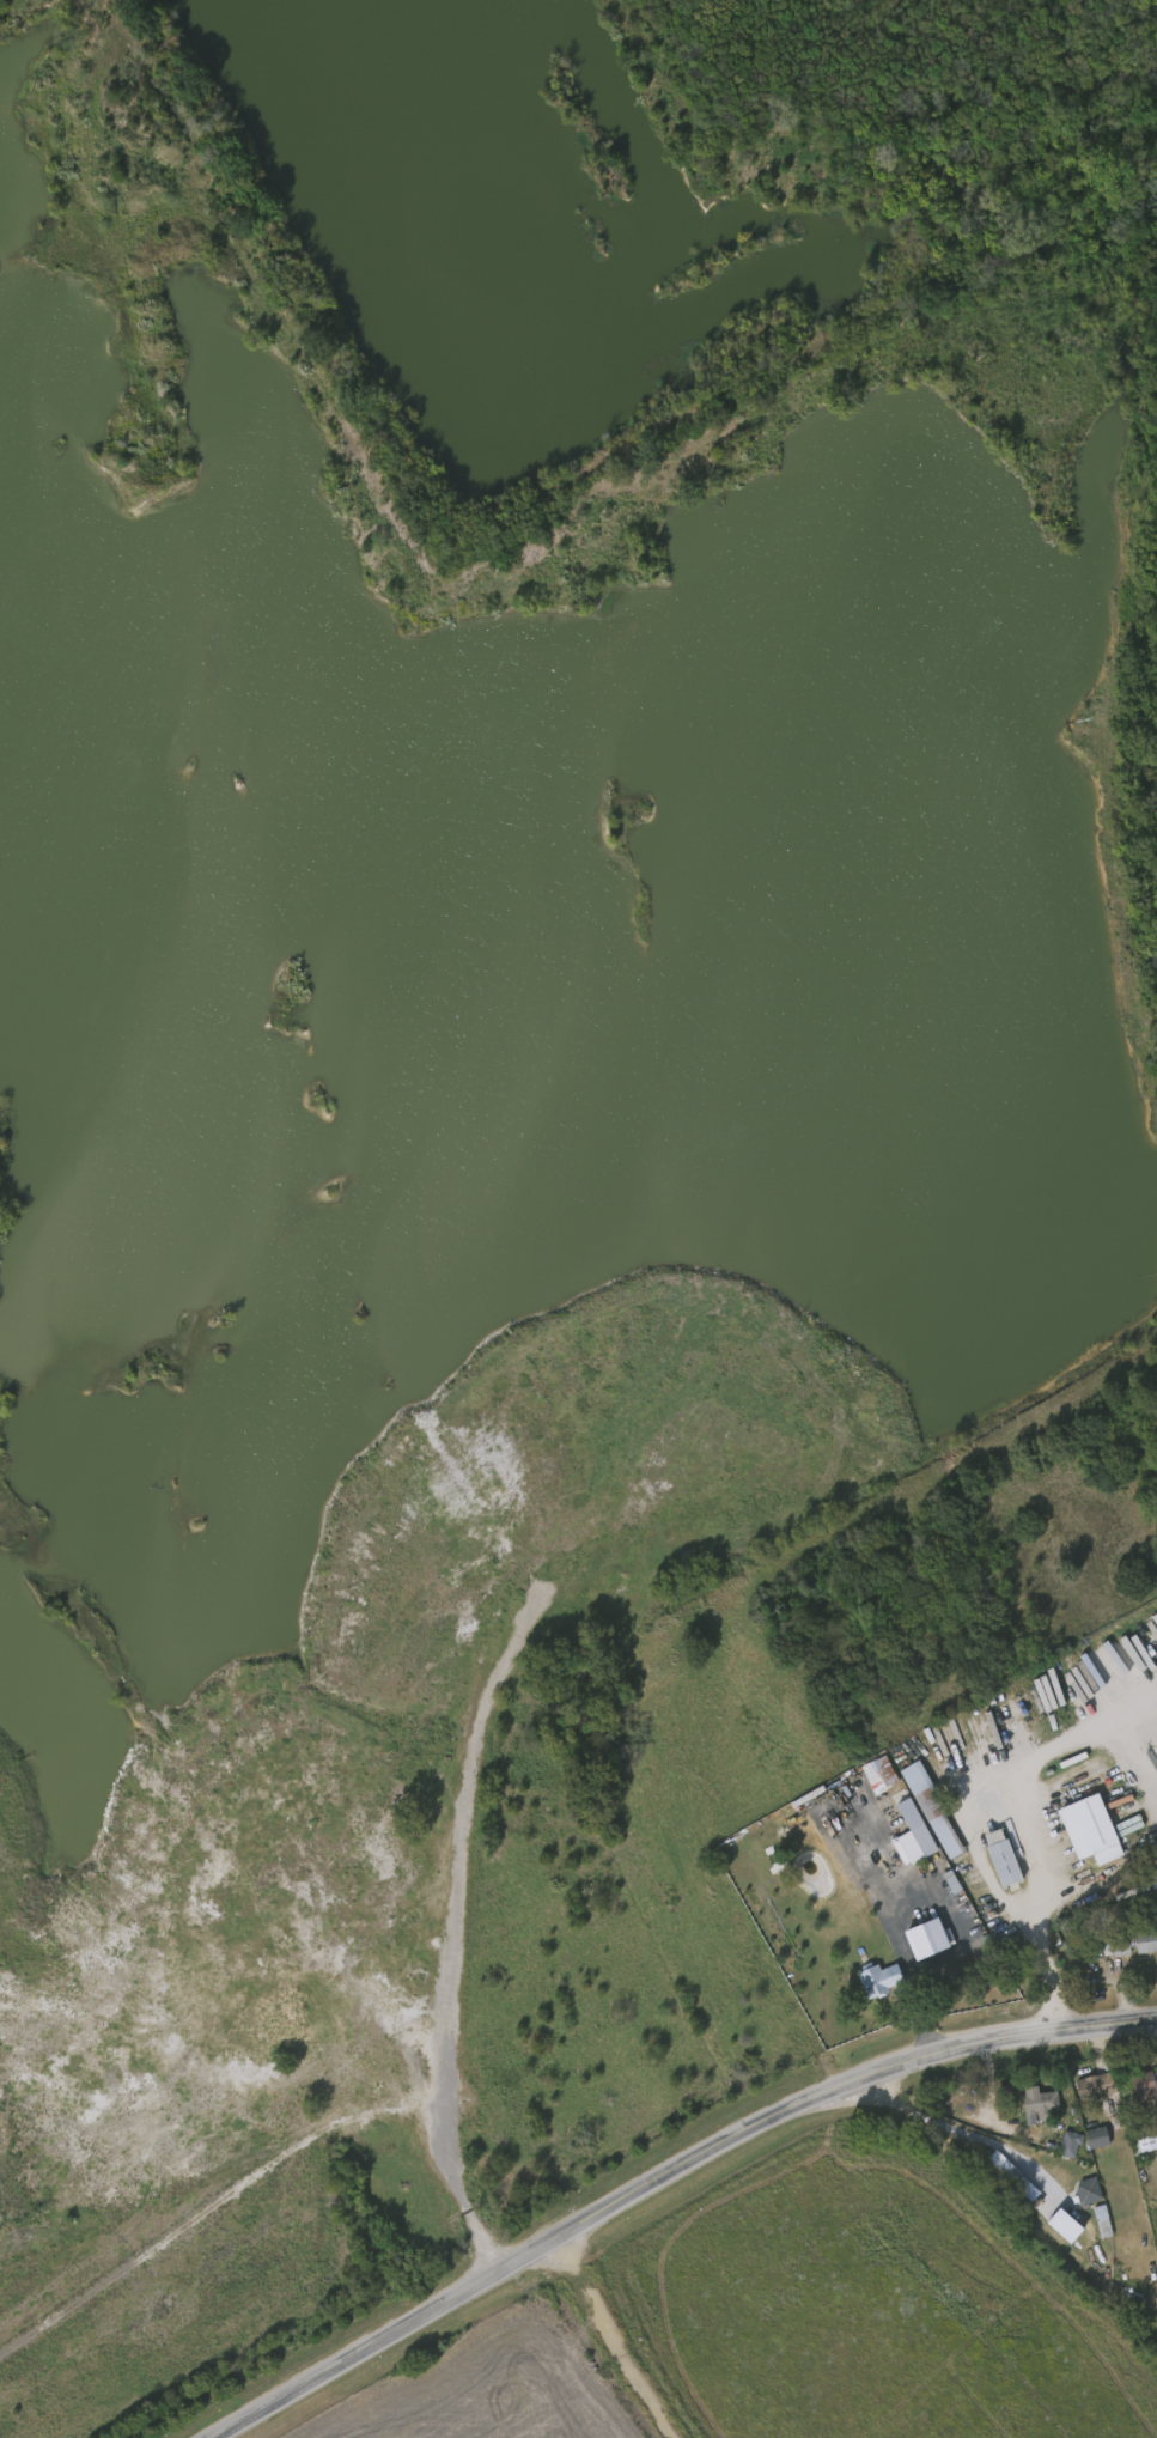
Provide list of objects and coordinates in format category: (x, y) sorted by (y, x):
road: (573, 554)
building: (879, 1775)
building: (931, 1810)
road: (1021, 1824)
building: (1088, 1829)
building: (912, 1836)
building: (1000, 1856)
building: (925, 1941)
building: (1128, 1943)
road: (896, 1945)
building: (879, 1978)
building: (1141, 2083)
building: (1092, 2093)
building: (1037, 2102)
road: (440, 2118)
building: (1096, 2136)
building: (1143, 2138)
building: (1068, 2144)
road: (664, 2175)
building: (1013, 2176)
building: (1088, 2191)
building: (1036, 2199)
building: (1102, 2221)
building: (1065, 2226)
road: (614, 2339)

